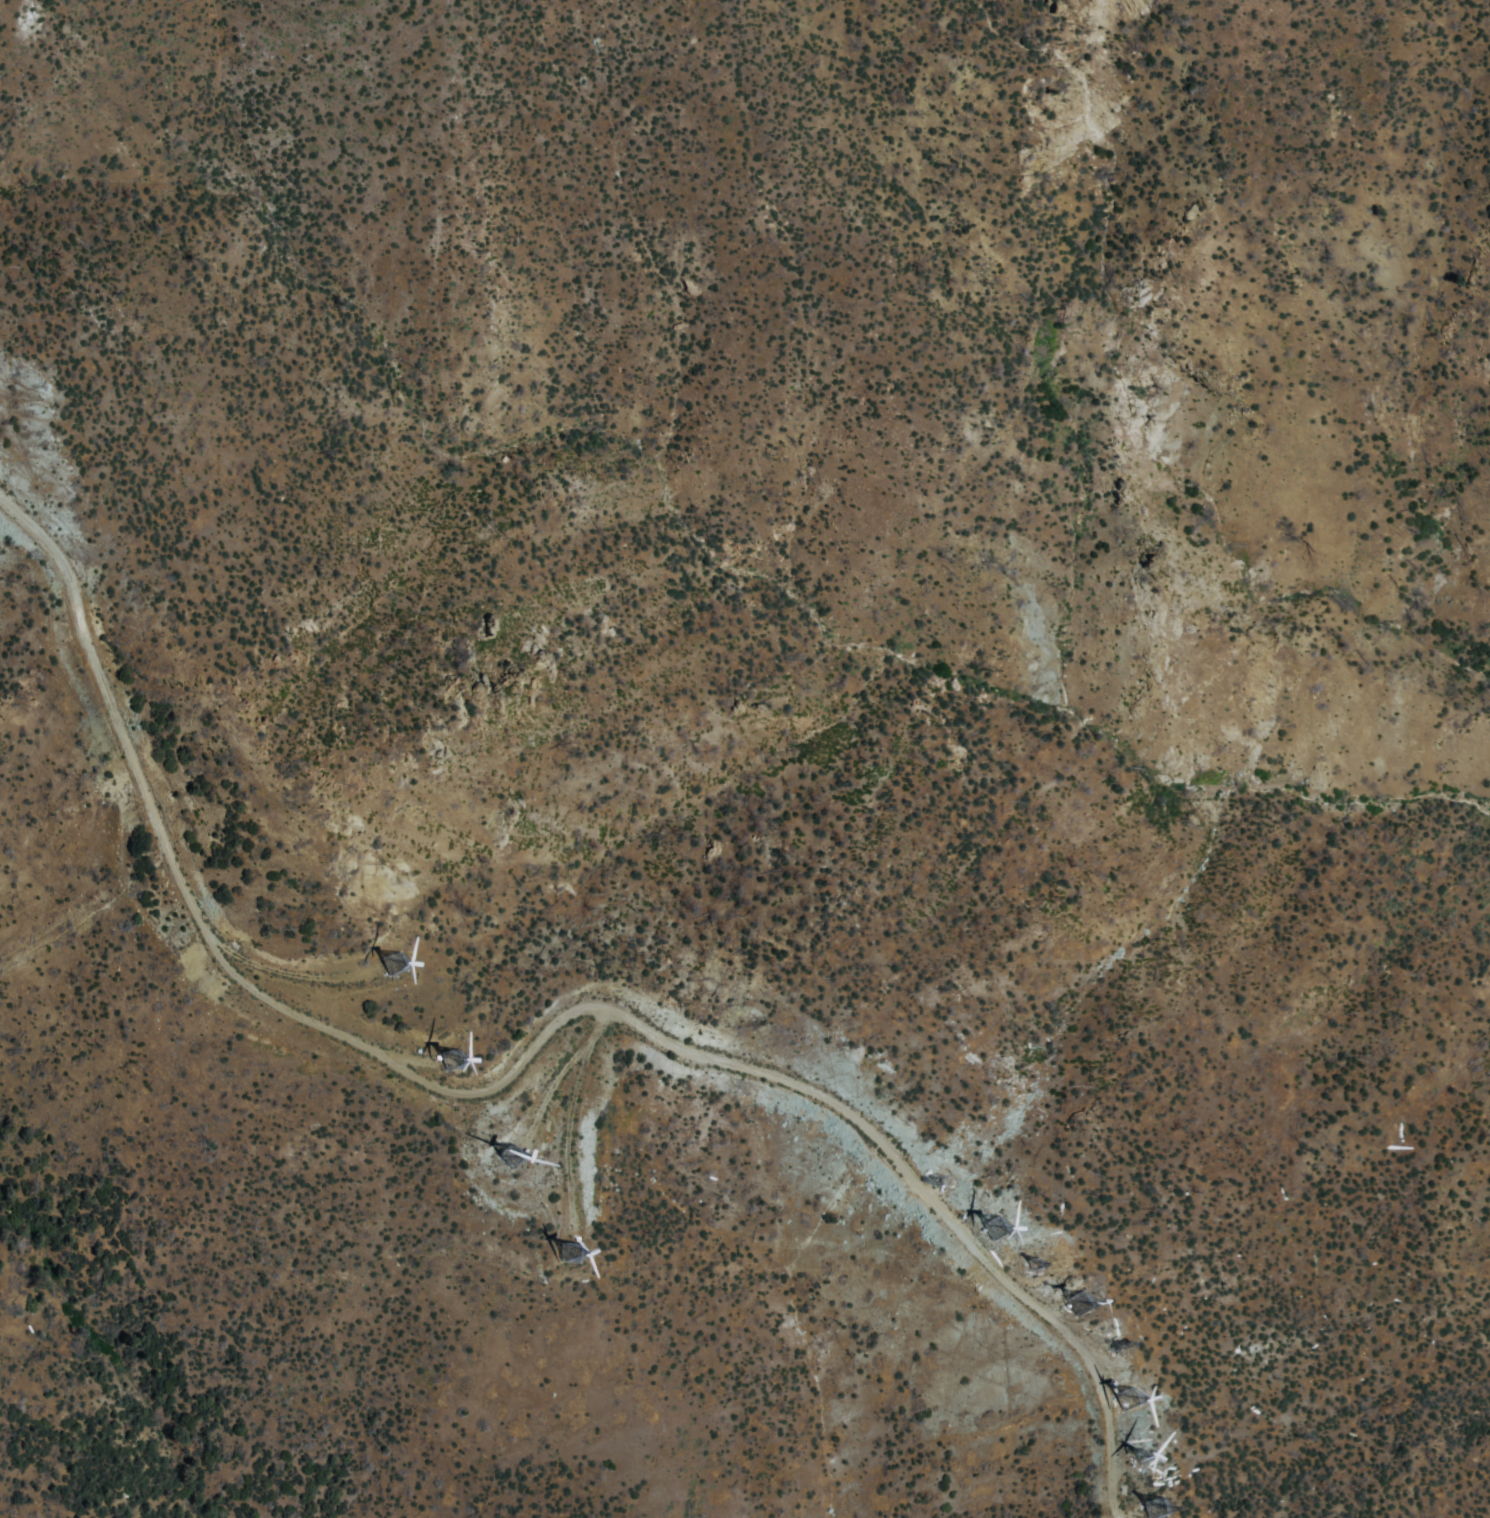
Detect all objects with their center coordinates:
wind turbine: (392, 960)
wind turbine: (451, 1058)
road: (456, 1086)
road: (582, 1089)
wind turbine: (513, 1152)
wind turbine: (942, 1181)
wind turbine: (993, 1226)
wind turbine: (563, 1252)
wind turbine: (1039, 1265)
wind turbine: (1075, 1302)
wind turbine: (1108, 1345)
wind turbine: (1124, 1401)
road: (1109, 1435)
wind turbine: (1139, 1470)
wind turbine: (1150, 1507)

